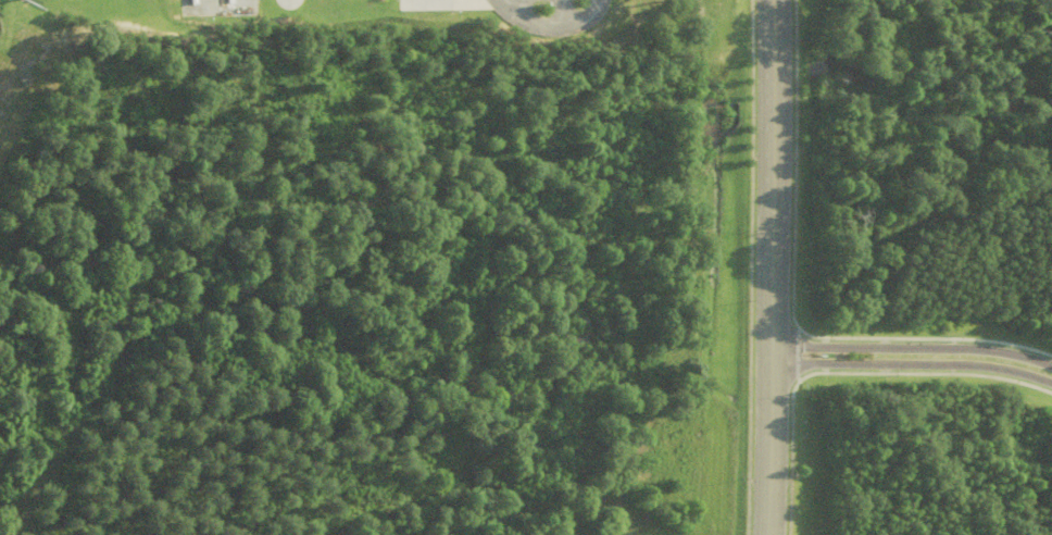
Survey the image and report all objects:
road: (550, 29)
road: (773, 267)
road: (913, 348)
road: (913, 364)

